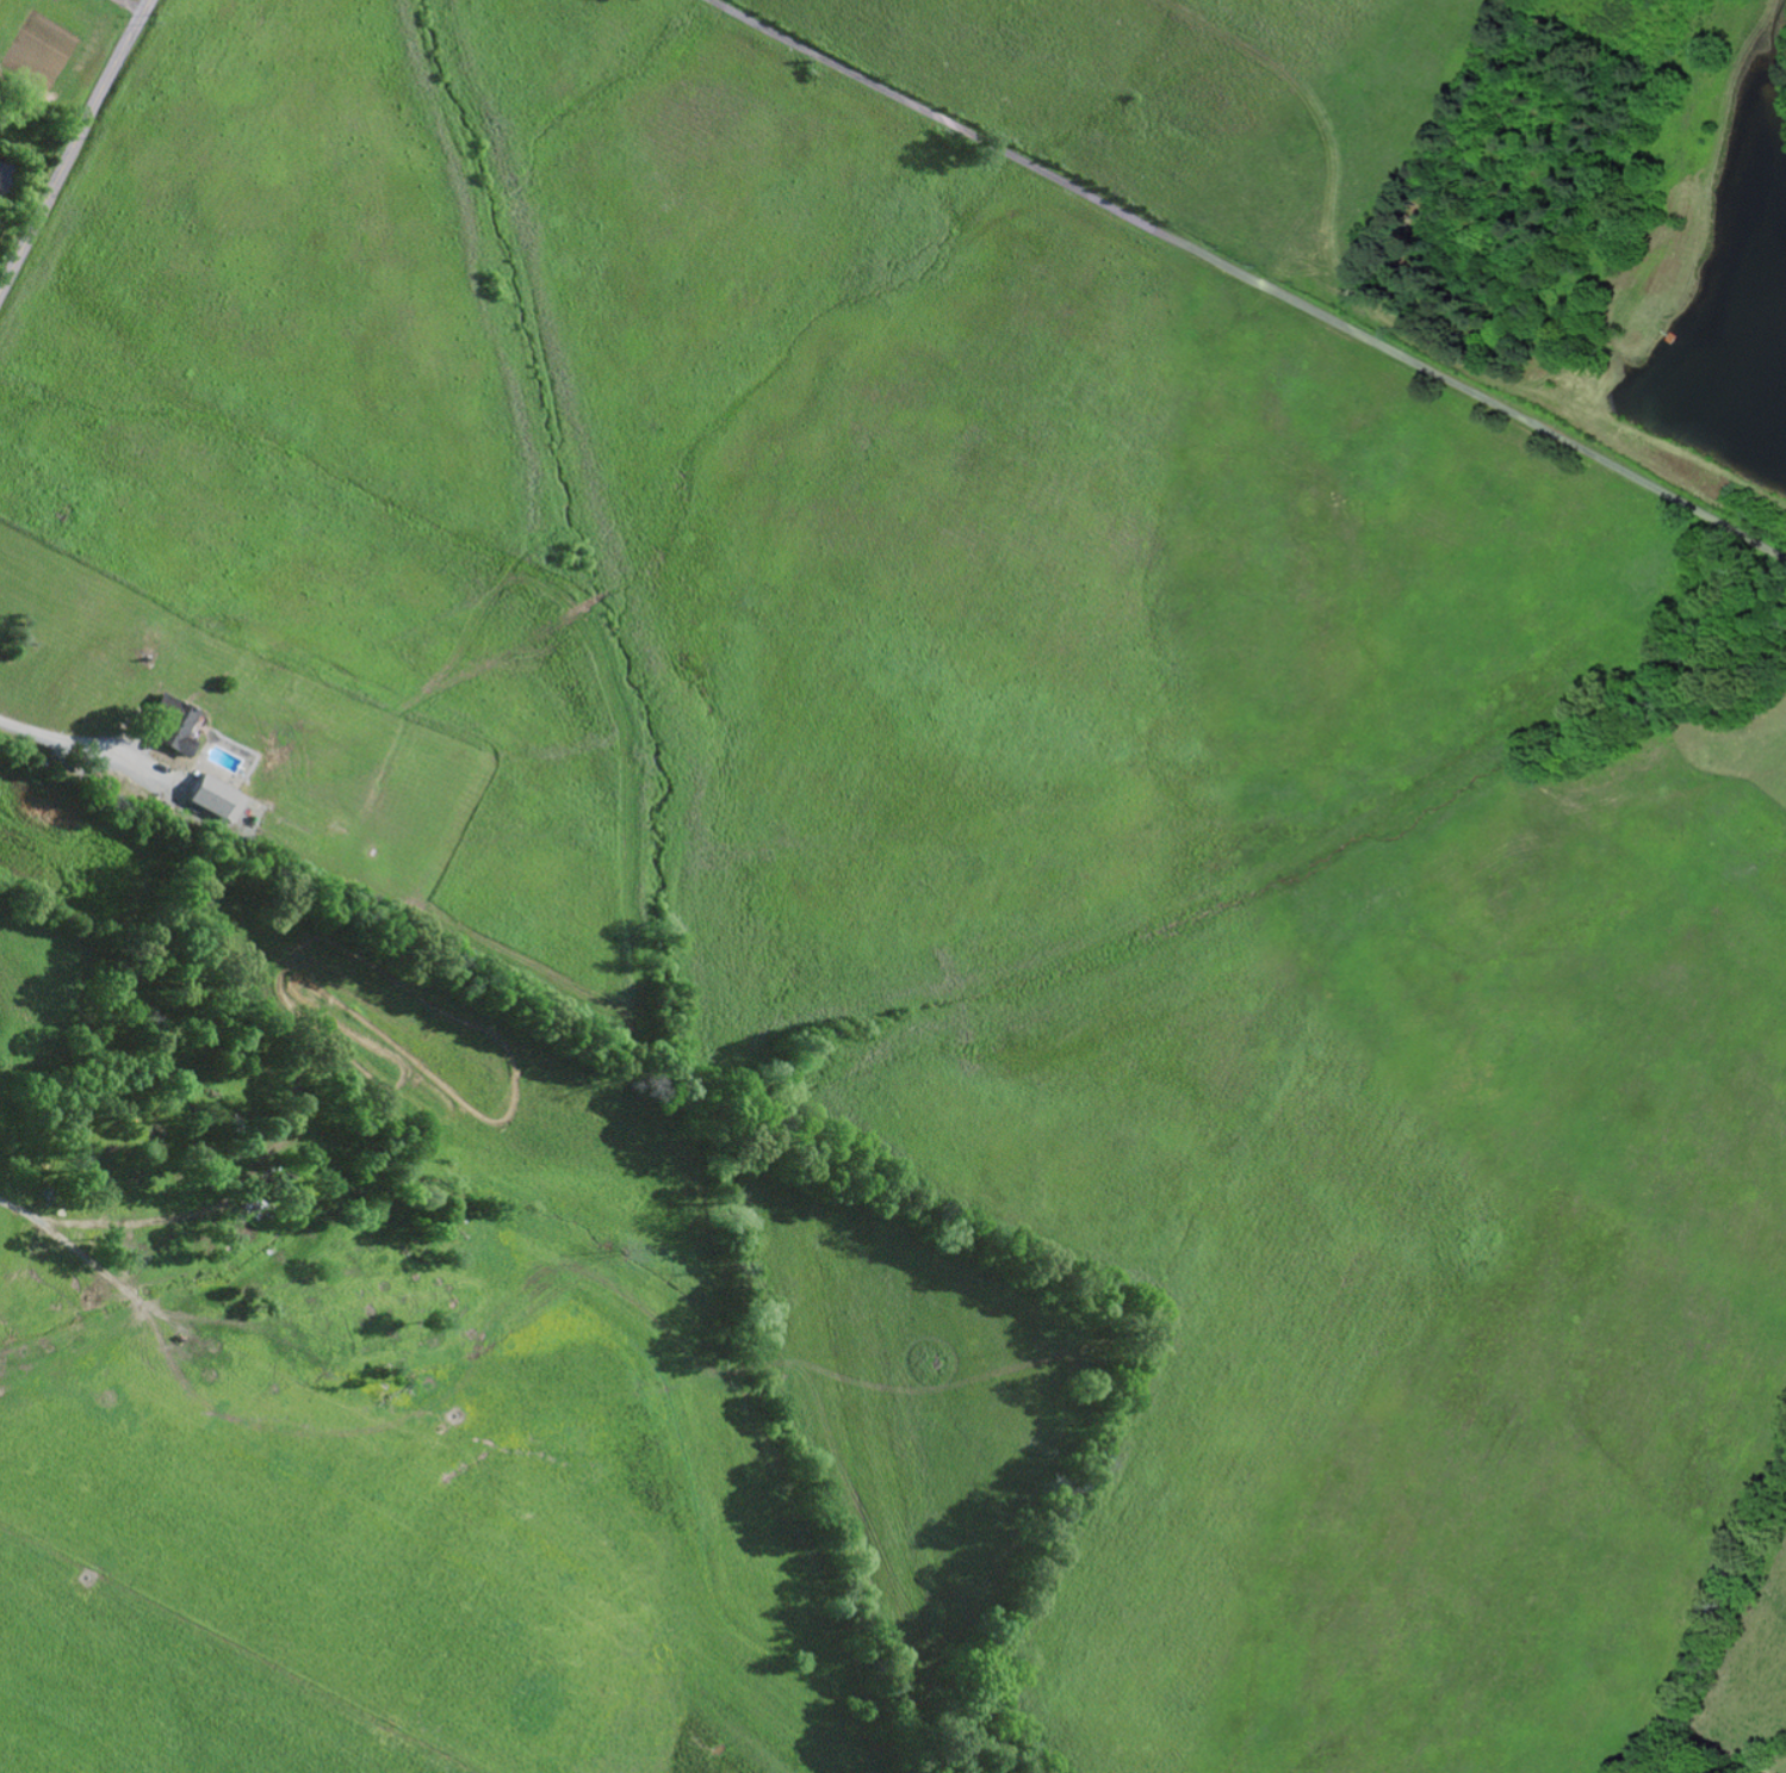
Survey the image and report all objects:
road: (72, 141)
road: (1253, 278)
building: (175, 720)
road: (60, 736)
building: (211, 792)

